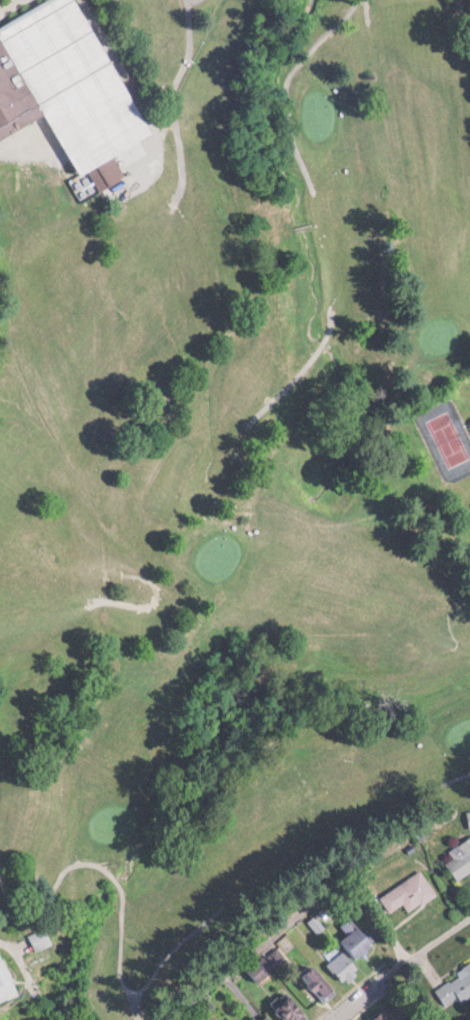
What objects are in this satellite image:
building: (14, 98)
park: (448, 439)
park: (219, 468)
building: (469, 815)
building: (460, 858)
building: (410, 892)
road: (437, 934)
building: (357, 938)
road: (241, 960)
building: (345, 966)
building: (261, 968)
building: (7, 980)
building: (321, 982)
building: (455, 986)
road: (367, 988)
building: (293, 1008)
building: (395, 1012)
building: (267, 1018)
building: (0, 1019)

